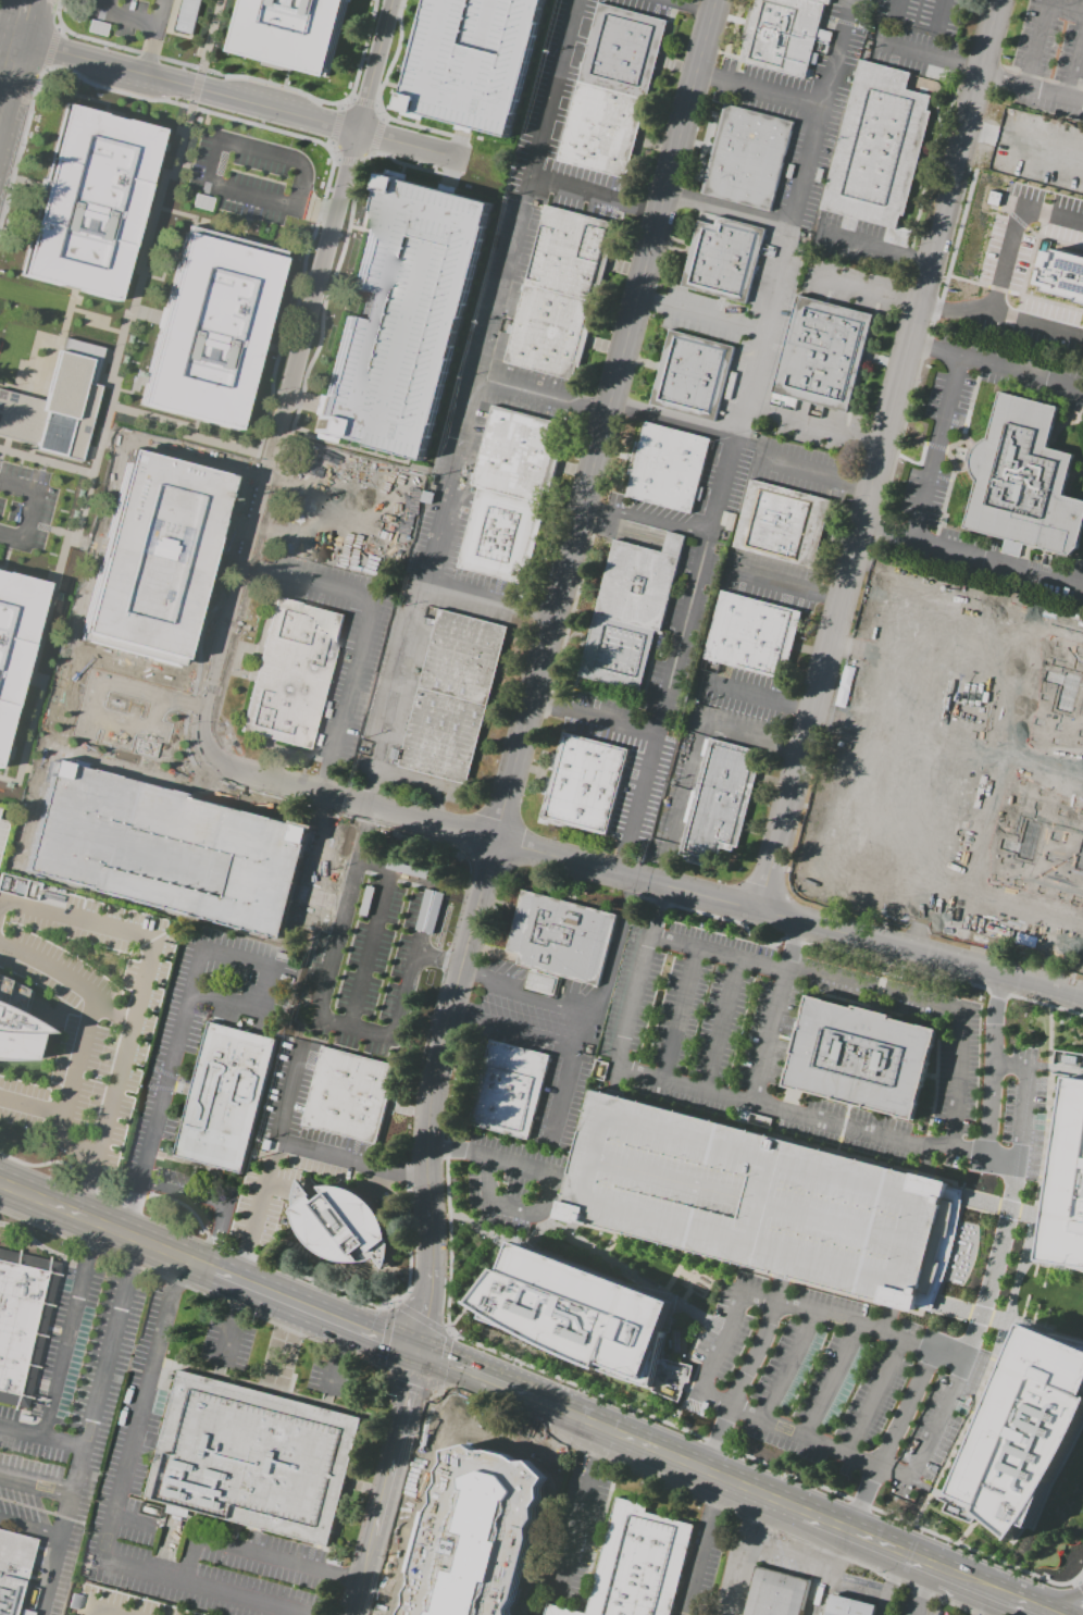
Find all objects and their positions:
road: (694, 4)
road: (901, 8)
road: (26, 11)
road: (157, 11)
road: (939, 13)
road: (125, 15)
road: (1040, 25)
building: (288, 32)
building: (782, 34)
road: (8, 36)
road: (148, 47)
road: (12, 49)
road: (50, 49)
parking lot: (1048, 58)
building: (472, 61)
parking garage: (472, 61)
road: (1074, 61)
road: (980, 71)
road: (241, 76)
road: (188, 85)
road: (195, 86)
building: (611, 90)
road: (759, 90)
road: (362, 101)
road: (335, 124)
road: (376, 135)
road: (410, 146)
building: (876, 147)
building: (747, 157)
road: (347, 160)
road: (204, 164)
road: (593, 195)
building: (88, 203)
road: (726, 212)
road: (862, 240)
building: (568, 251)
building: (723, 259)
road: (1005, 272)
building: (1062, 274)
road: (863, 290)
building: (401, 313)
parking garage: (401, 313)
road: (698, 314)
building: (210, 328)
building: (548, 332)
building: (822, 353)
road: (998, 363)
road: (296, 375)
building: (692, 375)
road: (540, 396)
road: (470, 402)
building: (57, 405)
road: (670, 421)
road: (812, 426)
road: (733, 435)
road: (936, 447)
road: (880, 455)
building: (668, 468)
road: (795, 470)
building: (1023, 481)
building: (509, 495)
building: (171, 515)
road: (644, 519)
building: (782, 524)
road: (972, 557)
road: (786, 584)
road: (164, 598)
road: (486, 600)
building: (628, 611)
building: (138, 623)
road: (54, 631)
road: (546, 632)
building: (980, 632)
road: (361, 634)
building: (750, 635)
building: (14, 638)
road: (151, 646)
building: (291, 673)
building: (452, 696)
road: (758, 696)
building: (115, 715)
road: (590, 716)
road: (751, 737)
road: (43, 763)
building: (584, 784)
building: (720, 803)
building: (0, 810)
building: (871, 825)
building: (2, 832)
parking lot: (2, 832)
road: (669, 837)
building: (221, 846)
building: (1025, 864)
road: (643, 879)
building: (560, 936)
building: (387, 937)
road: (145, 971)
road: (319, 972)
building: (540, 983)
road: (635, 989)
road: (872, 989)
road: (519, 995)
road: (185, 1004)
road: (588, 1006)
road: (677, 1009)
road: (112, 1011)
road: (721, 1021)
building: (14, 1023)
road: (771, 1024)
road: (510, 1028)
road: (84, 1033)
road: (372, 1036)
building: (859, 1057)
road: (991, 1080)
building: (509, 1090)
building: (349, 1095)
building: (223, 1096)
road: (799, 1115)
road: (69, 1141)
road: (349, 1158)
road: (497, 1160)
building: (1067, 1185)
road: (86, 1188)
road: (520, 1189)
road: (258, 1192)
road: (294, 1192)
road: (214, 1201)
building: (761, 1201)
parking lot: (761, 1201)
road: (509, 1206)
road: (189, 1210)
building: (340, 1225)
road: (1030, 1227)
road: (107, 1230)
road: (552, 1243)
road: (236, 1262)
road: (1041, 1263)
road: (674, 1270)
road: (175, 1274)
road: (631, 1275)
road: (991, 1279)
road: (197, 1291)
road: (659, 1294)
road: (238, 1299)
road: (387, 1305)
road: (788, 1305)
road: (316, 1312)
road: (424, 1312)
building: (576, 1313)
road: (422, 1315)
road: (1007, 1315)
building: (22, 1322)
road: (1047, 1330)
road: (69, 1332)
road: (1003, 1333)
road: (228, 1337)
road: (382, 1337)
road: (340, 1339)
traffic signals: (421, 1352)
road: (948, 1352)
road: (443, 1361)
road: (785, 1365)
road: (331, 1371)
road: (745, 1374)
road: (474, 1375)
road: (829, 1379)
road: (409, 1388)
road: (434, 1392)
road: (872, 1394)
road: (435, 1397)
road: (657, 1419)
road: (136, 1420)
road: (89, 1429)
building: (1023, 1429)
road: (41, 1438)
road: (396, 1442)
road: (597, 1450)
road: (664, 1454)
road: (606, 1459)
building: (252, 1461)
road: (36, 1484)
road: (713, 1496)
road: (576, 1527)
road: (29, 1528)
building: (494, 1541)
road: (870, 1542)
road: (786, 1553)
road: (254, 1555)
road: (746, 1555)
road: (189, 1557)
building: (638, 1564)
road: (695, 1565)
building: (13, 1569)
road: (818, 1569)
road: (338, 1573)
road: (833, 1573)
road: (362, 1574)
road: (1079, 1575)
road: (202, 1580)
road: (962, 1580)
road: (887, 1581)
road: (1080, 1585)
road: (310, 1590)
road: (920, 1590)
building: (773, 1594)
road: (995, 1594)
road: (1045, 1600)
road: (984, 1602)
building: (847, 1606)
road: (1017, 1607)
road: (1025, 1607)
road: (370, 1608)
road: (98, 1611)
building: (24, 1612)
building: (558, 1612)
road: (880, 1613)

